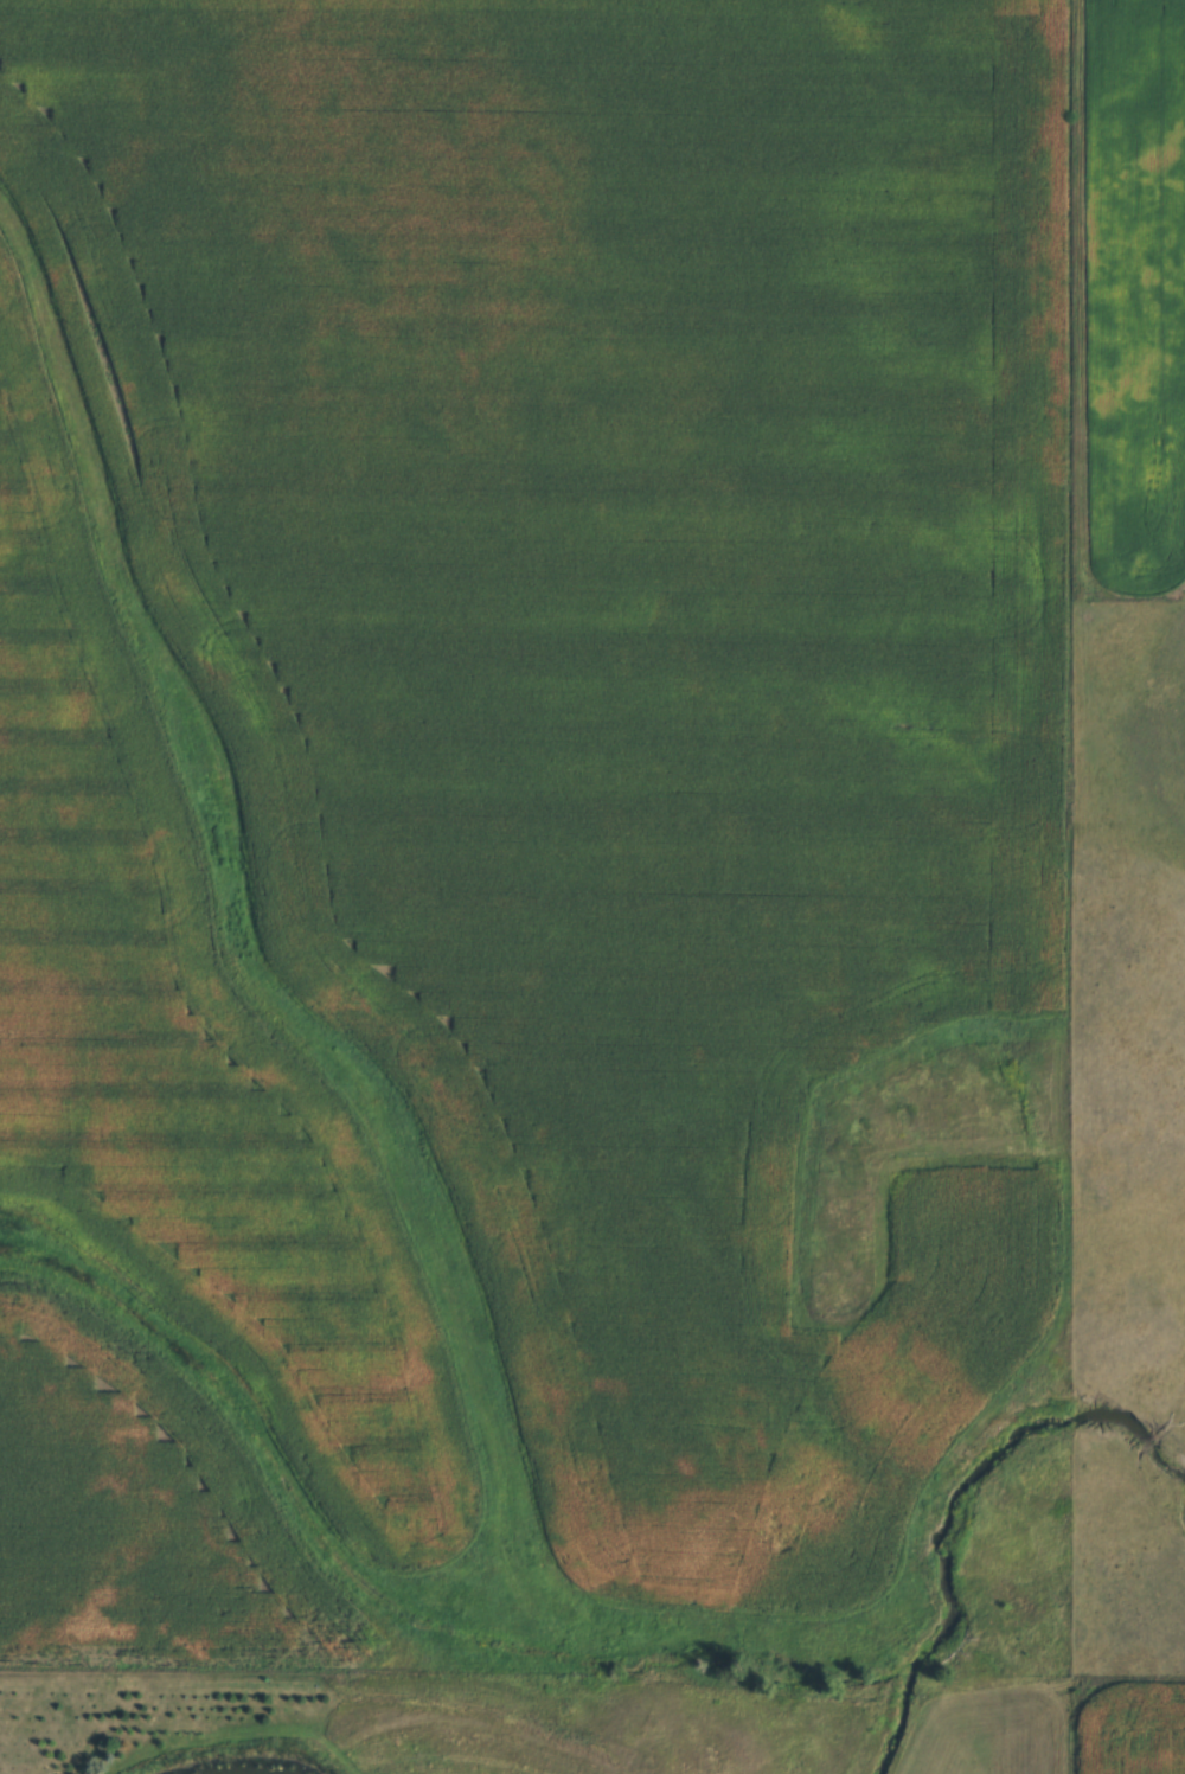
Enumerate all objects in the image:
crop: (1139, 1733)

